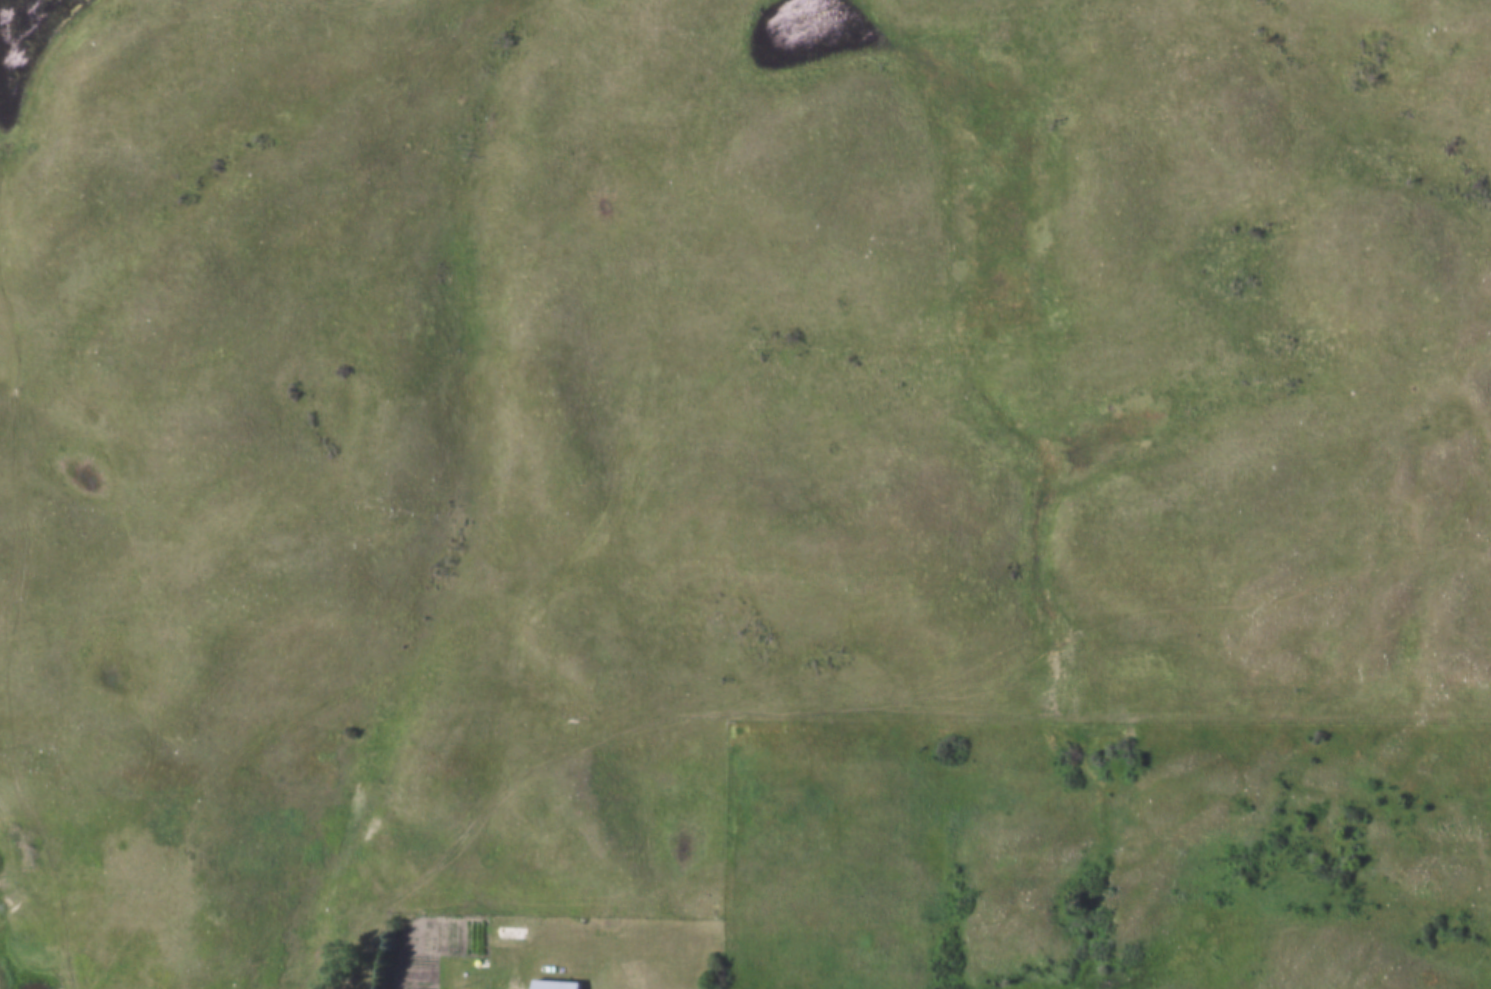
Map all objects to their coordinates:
building: (555, 985)

